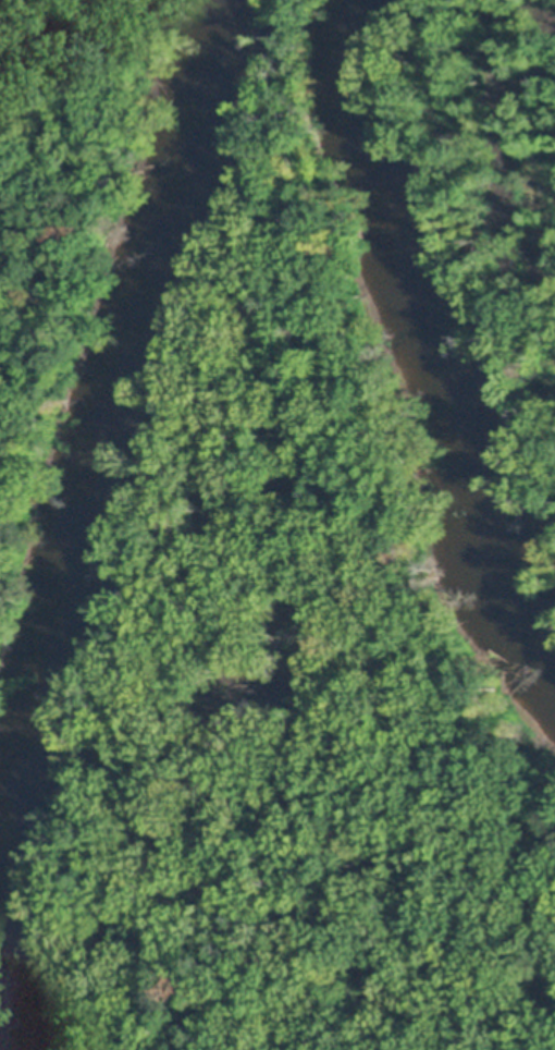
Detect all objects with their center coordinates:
river: (421, 346)
river: (99, 514)
river: (1, 1047)

